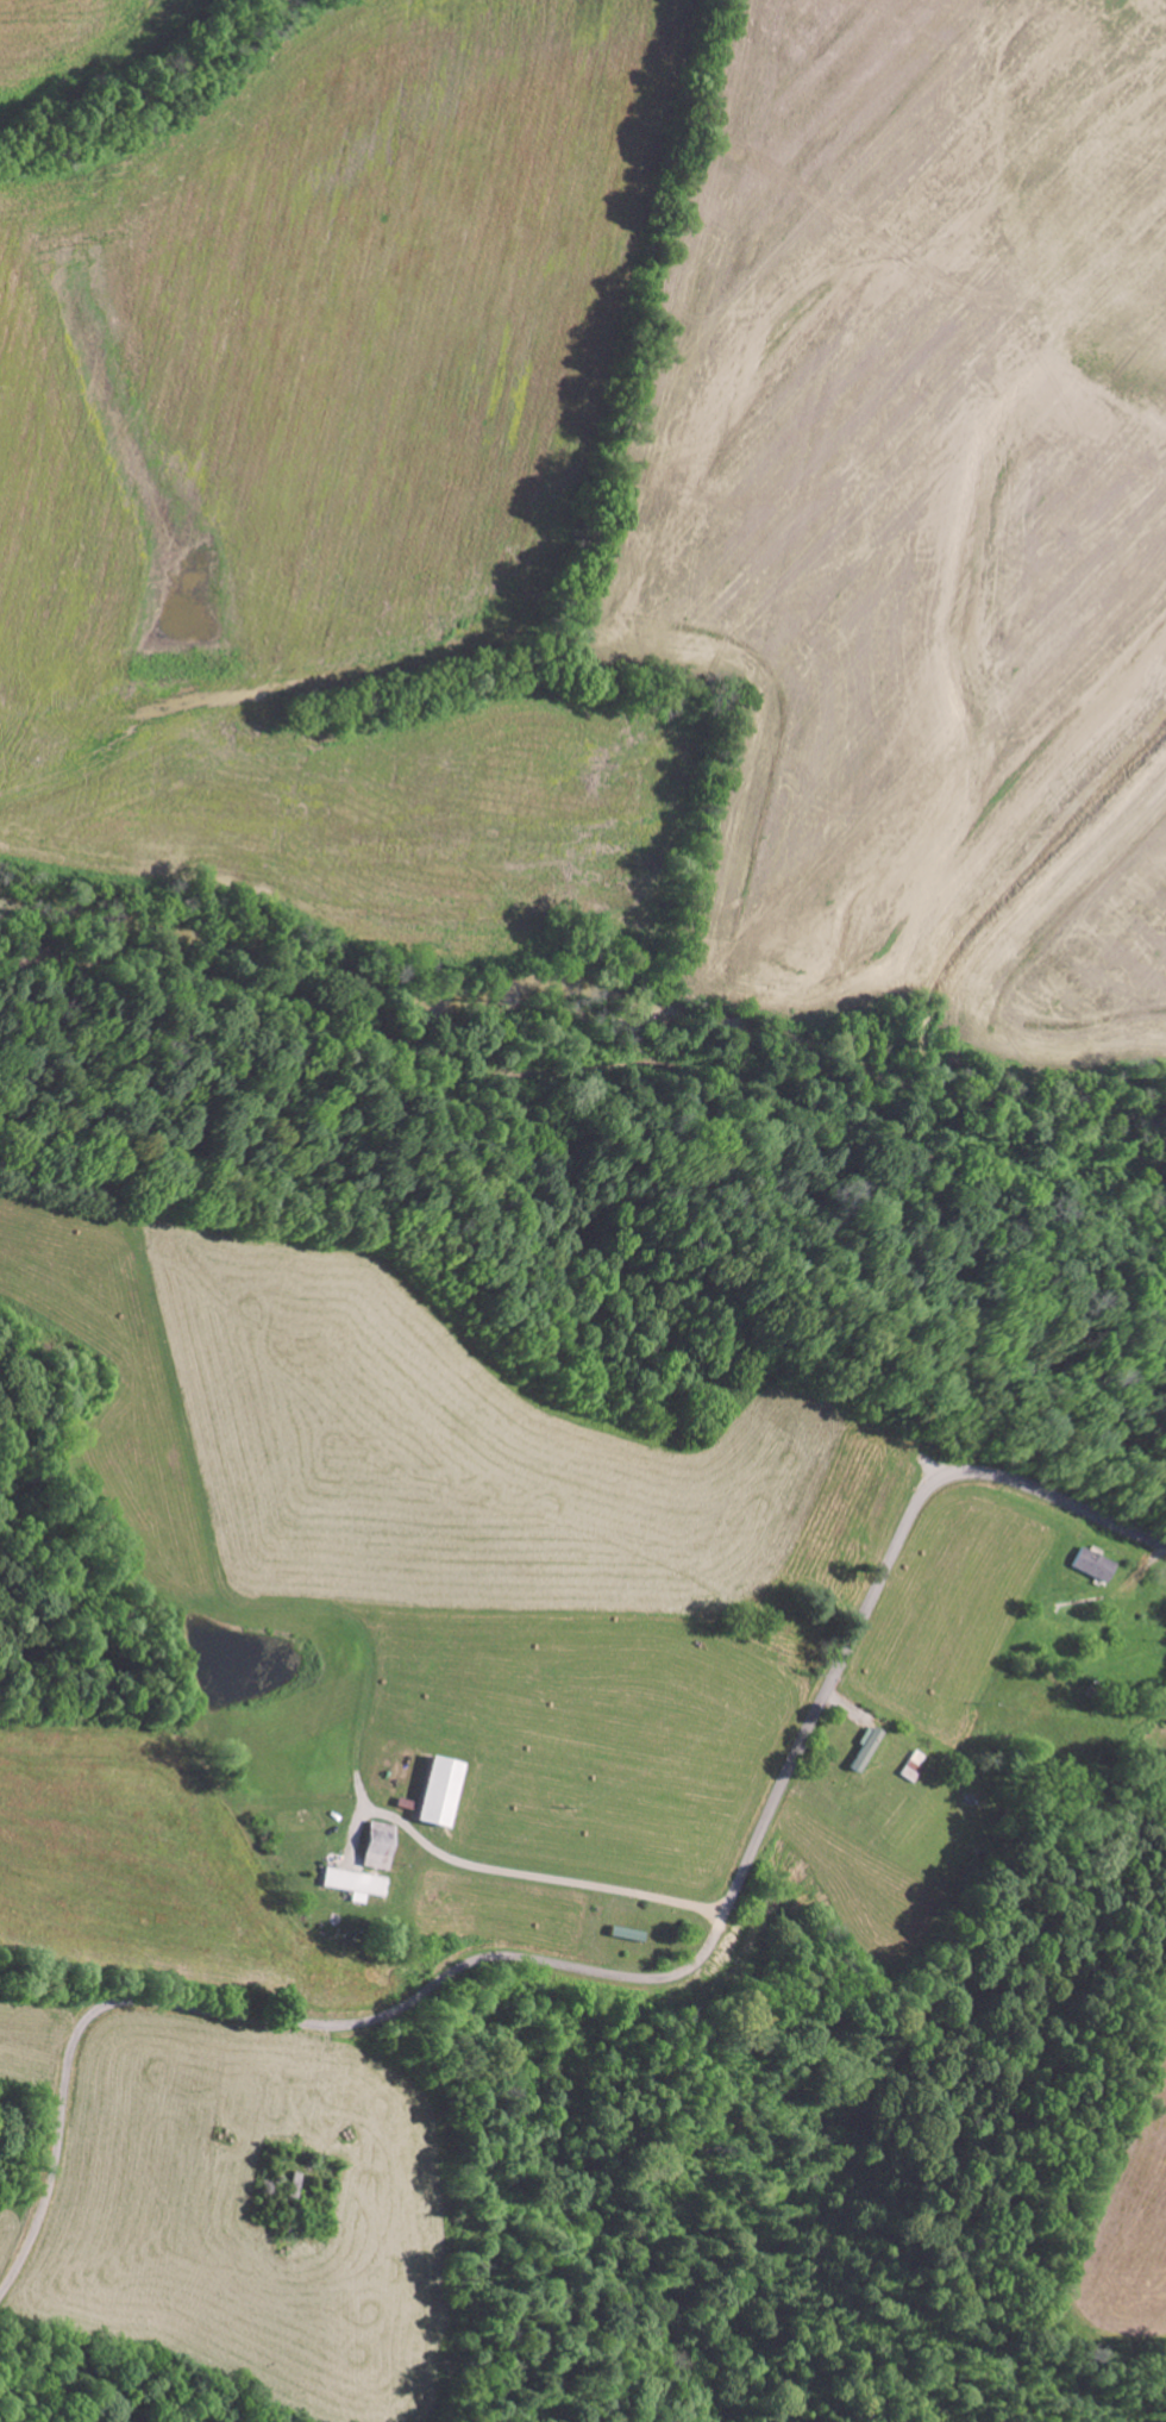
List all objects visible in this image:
road: (595, 1069)
building: (432, 1791)
building: (349, 1884)
road: (118, 1897)
road: (625, 1978)

